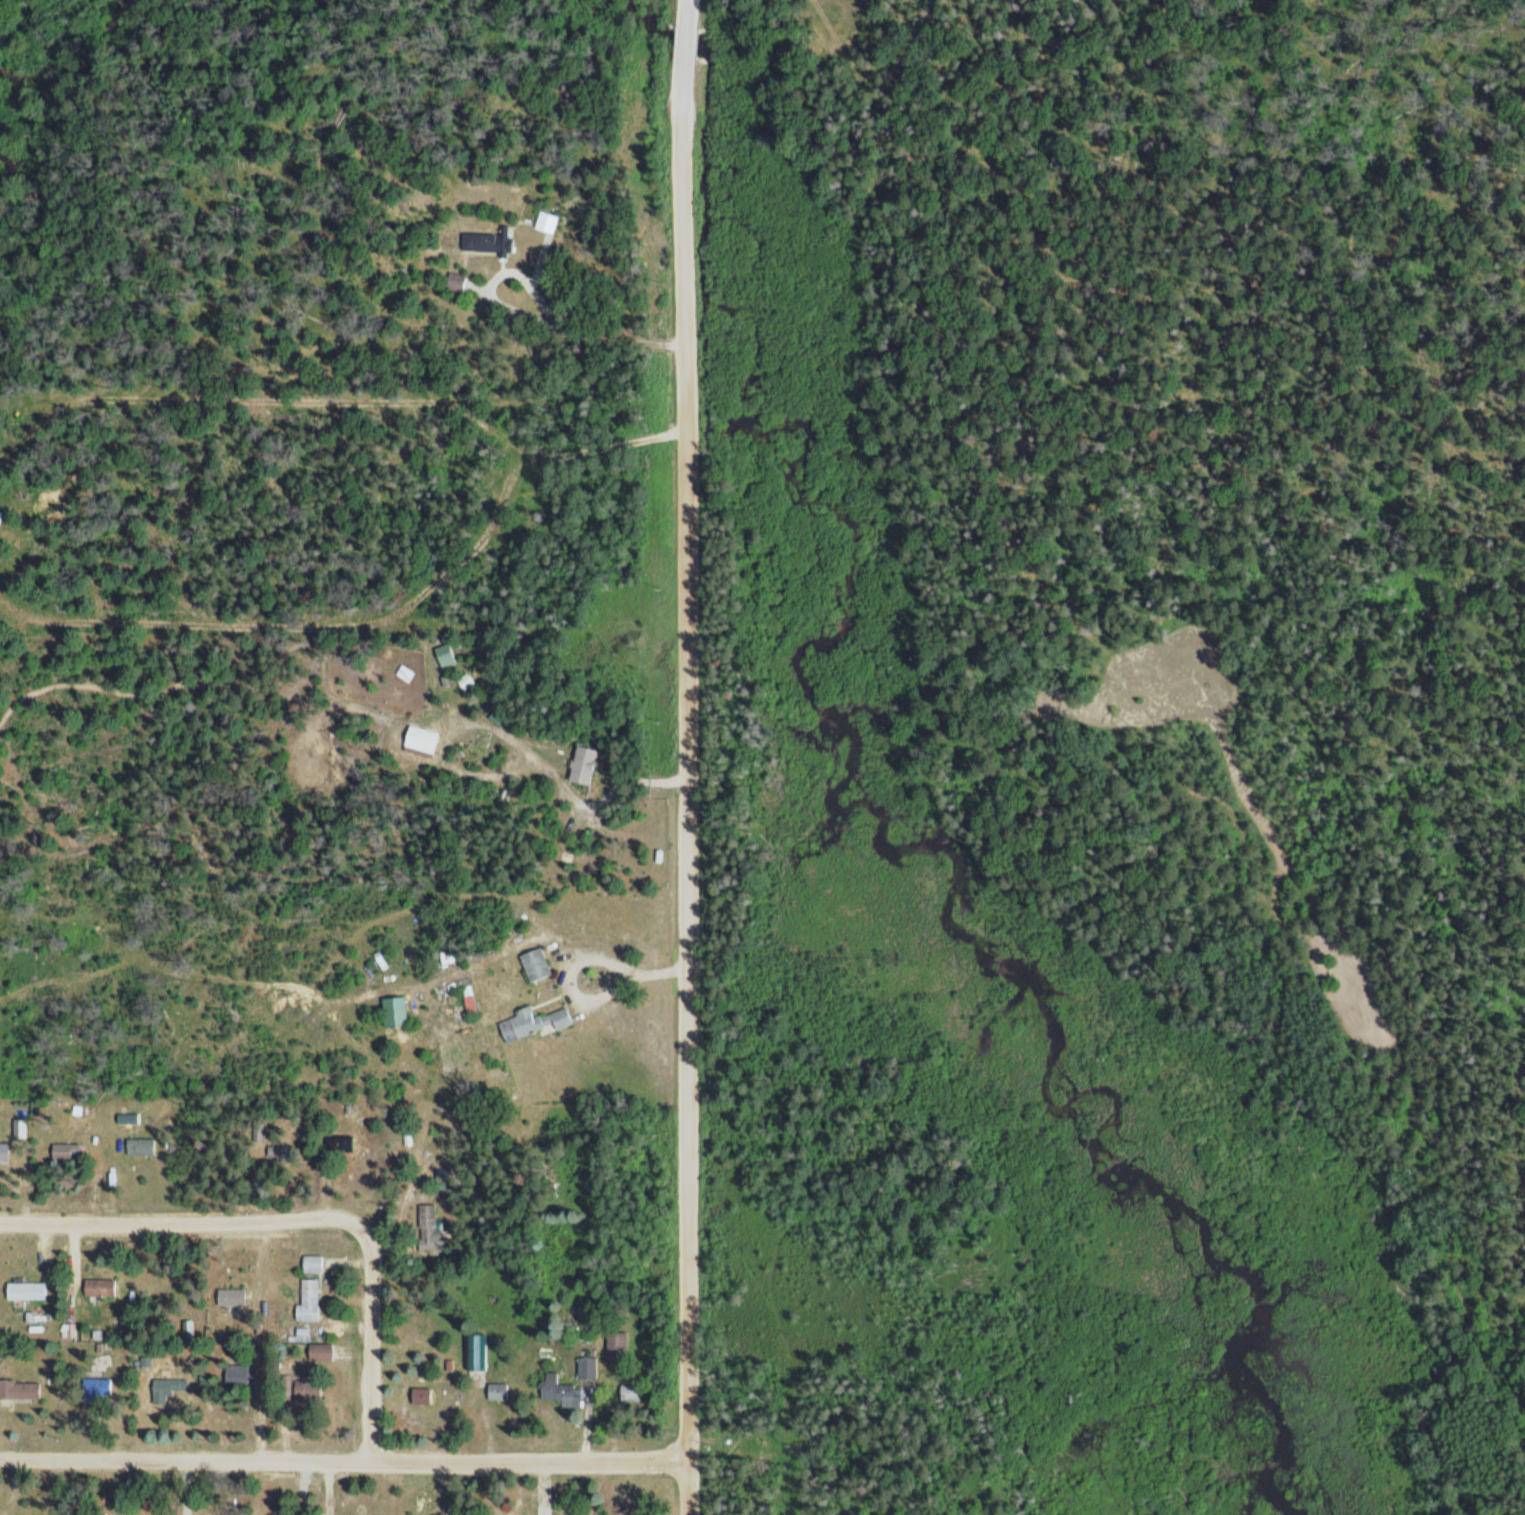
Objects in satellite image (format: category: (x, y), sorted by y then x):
building: (544, 222)
building: (487, 241)
building: (452, 281)
building: (403, 672)
road: (692, 757)
building: (580, 763)
building: (533, 964)
building: (530, 1022)
building: (337, 1144)
building: (138, 1145)
building: (3, 1151)
road: (298, 1225)
building: (426, 1226)
building: (311, 1263)
building: (97, 1286)
building: (24, 1289)
building: (229, 1296)
building: (307, 1300)
building: (615, 1346)
building: (318, 1350)
building: (475, 1350)
building: (584, 1367)
building: (235, 1373)
building: (167, 1385)
building: (94, 1387)
building: (18, 1388)
building: (495, 1390)
building: (558, 1390)
building: (627, 1392)
building: (419, 1395)
road: (189, 1463)
road: (534, 1466)

